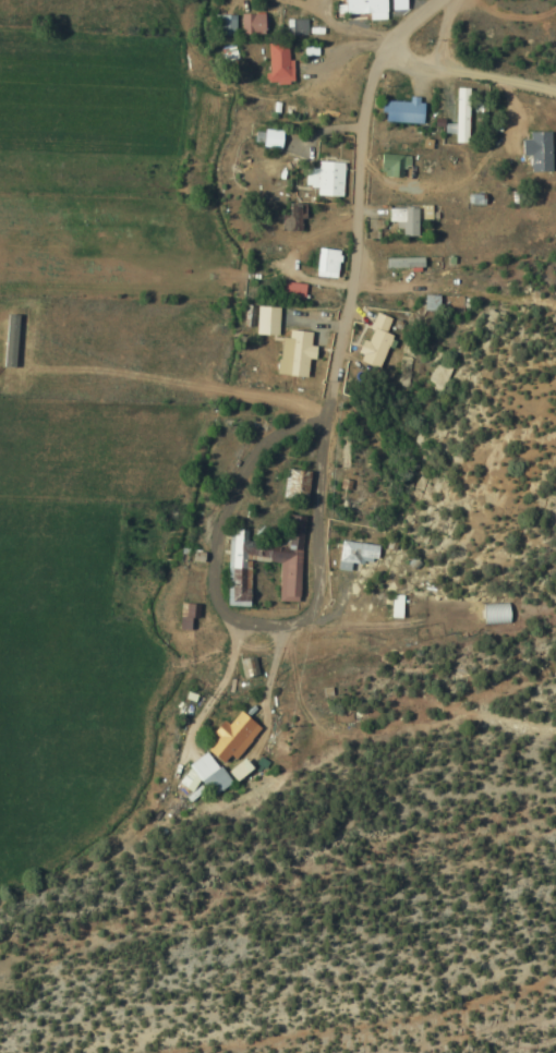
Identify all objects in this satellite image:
building: (362, 8)
building: (249, 23)
building: (221, 26)
building: (276, 62)
road: (470, 68)
building: (401, 110)
building: (459, 114)
building: (265, 137)
building: (536, 152)
building: (390, 165)
building: (323, 179)
building: (402, 220)
building: (324, 263)
building: (402, 263)
building: (289, 290)
road: (342, 328)
building: (374, 340)
building: (292, 352)
building: (293, 485)
building: (262, 555)
building: (354, 555)
building: (494, 614)
building: (229, 738)
building: (237, 768)
building: (215, 780)

